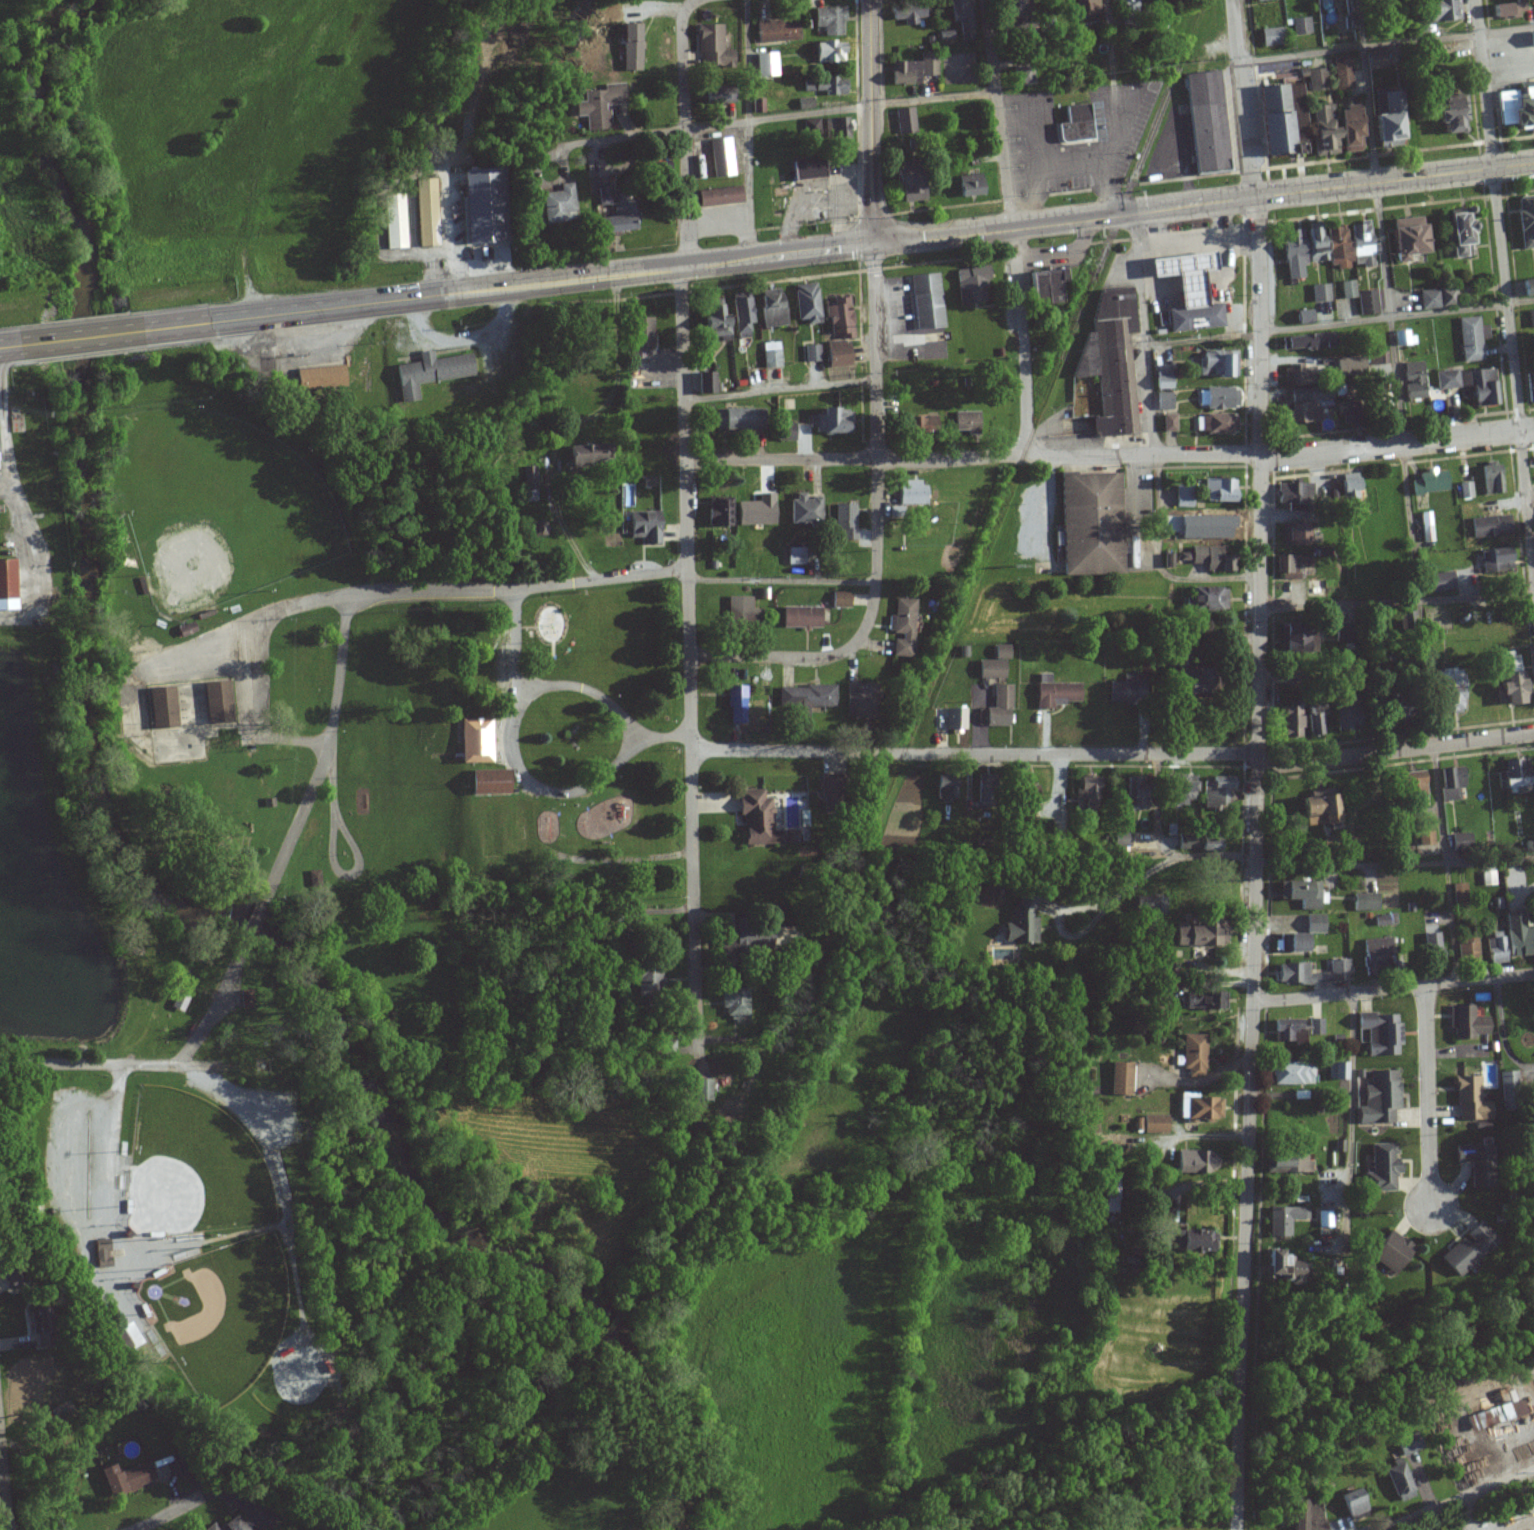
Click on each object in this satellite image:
building: (1257, 0)
road: (687, 2)
building: (1125, 3)
building: (1084, 6)
building: (1505, 10)
building: (1435, 12)
building: (906, 13)
building: (1010, 14)
building: (960, 17)
building: (828, 21)
building: (1300, 26)
building: (775, 32)
building: (1270, 36)
road: (1385, 46)
building: (626, 47)
building: (711, 47)
building: (828, 52)
building: (1374, 60)
building: (765, 65)
building: (911, 70)
building: (1341, 73)
building: (1021, 75)
building: (1316, 79)
road: (1486, 83)
building: (824, 86)
building: (716, 95)
railway: (1164, 97)
road: (1240, 99)
building: (591, 106)
road: (837, 109)
building: (1515, 109)
road: (996, 113)
building: (1449, 113)
building: (1386, 117)
building: (1278, 119)
building: (904, 121)
road: (867, 122)
building: (1203, 122)
building: (1073, 124)
road: (746, 128)
building: (834, 129)
building: (1346, 129)
building: (1321, 130)
road: (681, 133)
road: (569, 143)
building: (719, 158)
building: (803, 170)
building: (903, 184)
building: (968, 186)
building: (719, 196)
building: (552, 205)
building: (481, 206)
building: (427, 212)
building: (605, 213)
road: (1055, 221)
building: (393, 222)
building: (1524, 223)
building: (1402, 238)
building: (1324, 248)
building: (1182, 273)
building: (969, 286)
building: (1526, 288)
road: (491, 289)
building: (1348, 290)
building: (1320, 293)
building: (1437, 298)
building: (924, 302)
building: (805, 303)
building: (1367, 303)
building: (770, 309)
road: (275, 314)
building: (1192, 315)
road: (1396, 316)
building: (1302, 317)
building: (739, 318)
building: (837, 319)
building: (714, 325)
building: (640, 333)
road: (84, 337)
road: (1202, 338)
building: (1404, 338)
building: (1470, 339)
road: (1021, 341)
building: (1305, 342)
road: (11, 345)
building: (810, 353)
building: (834, 354)
building: (770, 355)
building: (1378, 359)
building: (1108, 362)
building: (1216, 364)
building: (1347, 366)
road: (1514, 366)
building: (430, 373)
building: (1294, 375)
building: (318, 378)
building: (1446, 380)
building: (1161, 381)
building: (1412, 381)
building: (703, 384)
building: (1479, 386)
building: (1529, 387)
road: (777, 388)
building: (1218, 398)
building: (1162, 401)
building: (1307, 403)
building: (735, 420)
building: (964, 421)
building: (829, 422)
building: (1167, 423)
building: (1216, 424)
road: (569, 425)
building: (916, 425)
building: (784, 432)
road: (5, 437)
road: (1152, 442)
building: (580, 456)
road: (1109, 456)
building: (1491, 478)
building: (1429, 483)
building: (528, 484)
building: (1347, 489)
building: (1465, 490)
building: (1217, 491)
building: (907, 492)
road: (1405, 492)
building: (1292, 493)
building: (1181, 496)
park: (217, 506)
building: (802, 510)
building: (754, 511)
building: (716, 513)
building: (843, 521)
building: (1087, 525)
building: (644, 527)
building: (1426, 527)
building: (1487, 527)
road: (874, 530)
building: (1293, 535)
road: (30, 556)
building: (794, 556)
building: (1494, 560)
building: (1168, 561)
building: (1215, 564)
building: (1290, 566)
road: (779, 581)
building: (1439, 582)
building: (8, 585)
road: (464, 591)
building: (1205, 599)
building: (837, 600)
road: (1396, 603)
building: (742, 613)
building: (798, 618)
building: (1408, 621)
building: (900, 628)
building: (1340, 632)
building: (1294, 637)
road: (689, 660)
building: (993, 664)
building: (1507, 681)
road: (559, 687)
building: (1125, 690)
building: (1444, 692)
building: (1054, 693)
building: (1261, 694)
building: (761, 699)
building: (803, 700)
building: (856, 701)
building: (215, 703)
building: (735, 705)
building: (160, 708)
building: (996, 709)
building: (1342, 715)
road: (250, 718)
building: (954, 720)
building: (1287, 722)
building: (1313, 724)
building: (472, 741)
road: (1114, 755)
building: (1510, 777)
railway: (888, 779)
building: (486, 783)
building: (1449, 784)
building: (944, 788)
building: (1410, 789)
building: (1178, 791)
road: (547, 793)
building: (1086, 793)
building: (1024, 796)
building: (1313, 812)
building: (759, 821)
building: (1424, 837)
building: (1121, 840)
road: (289, 843)
building: (1208, 845)
road: (1164, 847)
building: (1343, 847)
road: (1253, 863)
road: (1393, 865)
building: (1215, 871)
building: (1301, 894)
road: (1116, 897)
building: (1364, 902)
building: (1152, 904)
building: (1021, 921)
building: (1314, 923)
building: (1200, 932)
building: (1517, 935)
building: (751, 936)
building: (1292, 941)
building: (1496, 947)
building: (1466, 949)
building: (1431, 950)
building: (1374, 952)
building: (1291, 967)
building: (646, 974)
road: (1392, 990)
building: (1162, 991)
building: (1204, 999)
building: (733, 1003)
building: (1465, 1022)
building: (1286, 1029)
building: (1313, 1030)
road: (1502, 1032)
building: (1379, 1033)
building: (669, 1047)
building: (1193, 1055)
road: (86, 1063)
building: (1337, 1070)
building: (1291, 1073)
building: (1119, 1078)
road: (1352, 1078)
building: (702, 1089)
road: (1428, 1096)
building: (1379, 1097)
building: (1469, 1098)
building: (1197, 1107)
building: (1149, 1124)
building: (1195, 1161)
building: (1472, 1162)
building: (1287, 1164)
park: (191, 1167)
building: (1381, 1167)
building: (1283, 1219)
building: (1323, 1219)
building: (1195, 1240)
building: (1465, 1250)
building: (1389, 1251)
building: (101, 1253)
building: (1278, 1267)
park: (219, 1312)
railway: (614, 1321)
building: (131, 1336)
building: (1496, 1415)
building: (1408, 1444)
building: (123, 1478)
building: (1399, 1480)
road: (4, 1488)
road: (1460, 1499)
building: (1352, 1504)
road: (1465, 1514)
road: (168, 1515)
building: (1304, 1515)
road: (1521, 1525)

